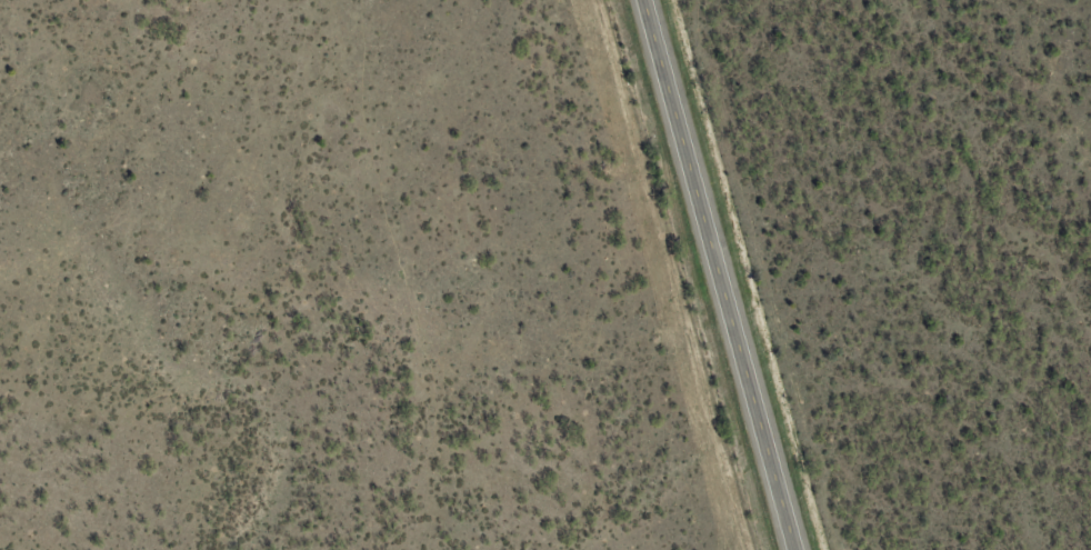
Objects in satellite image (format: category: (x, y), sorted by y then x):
road: (73, 67)
road: (717, 274)

